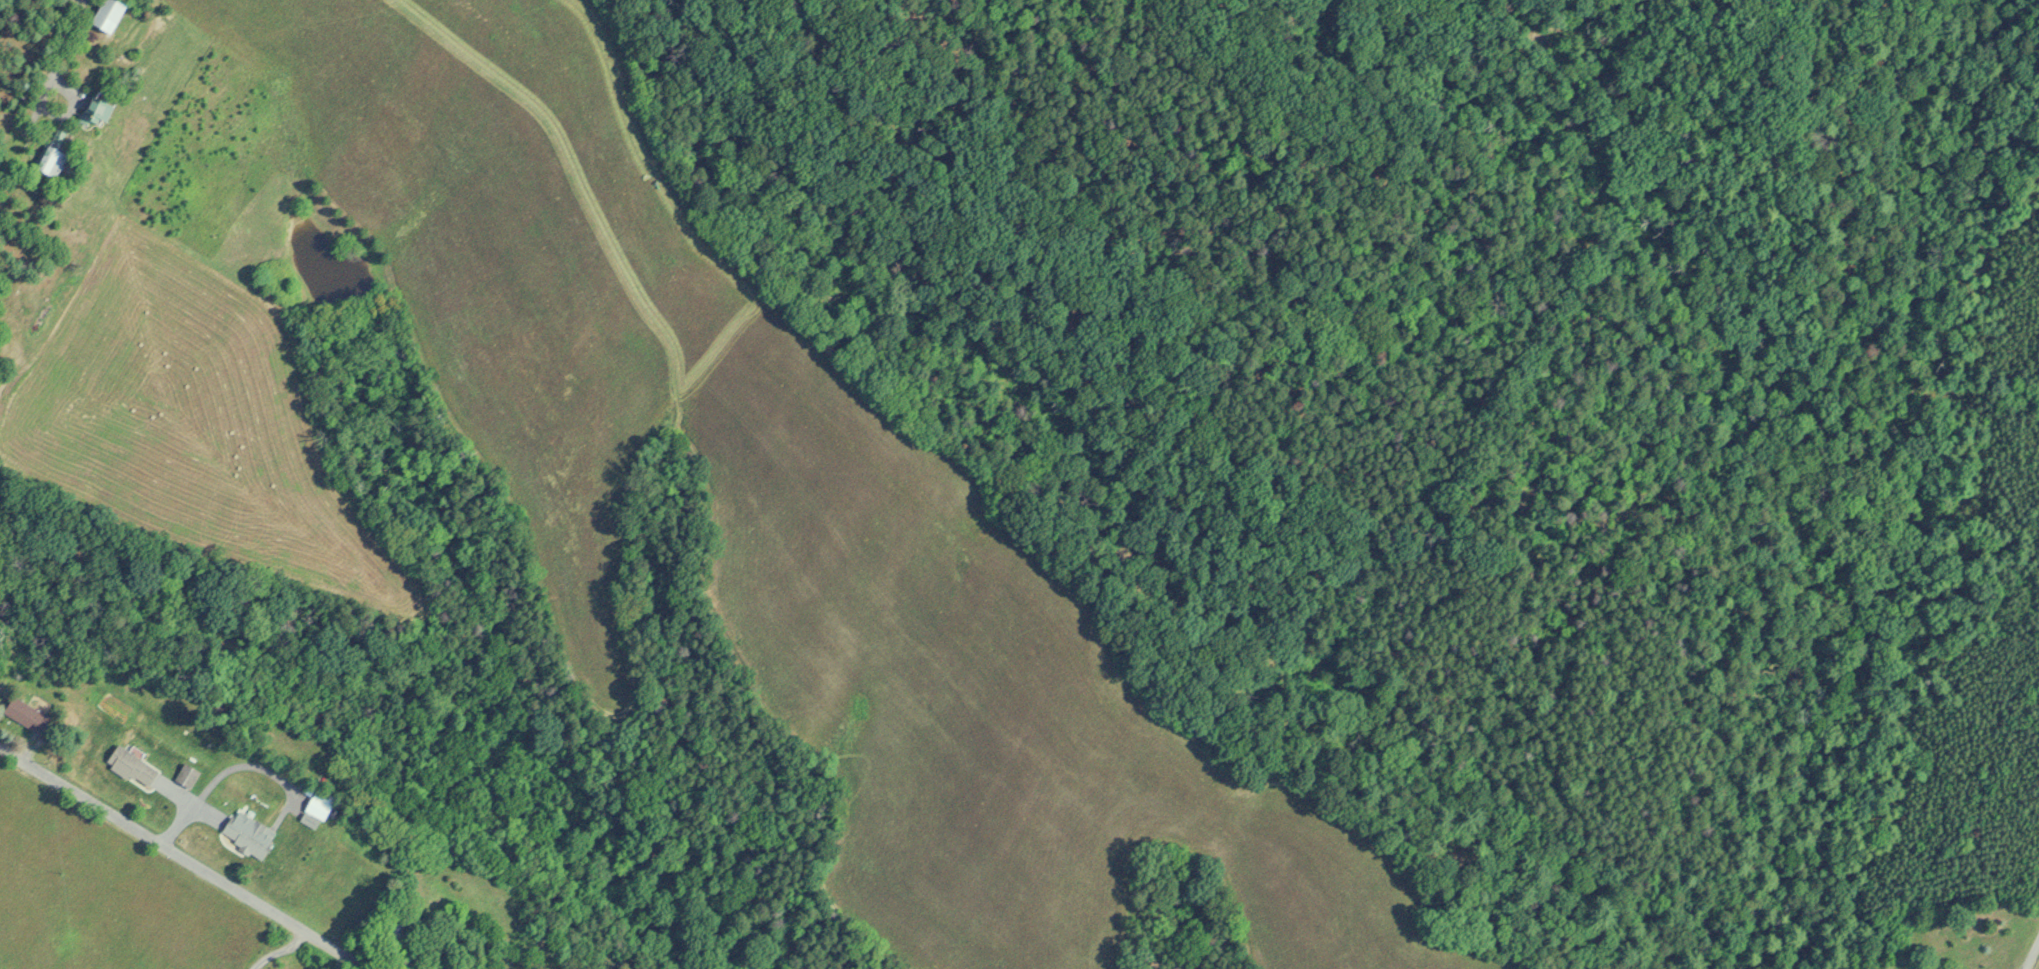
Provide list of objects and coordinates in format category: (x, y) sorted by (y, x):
building: (119, 13)
building: (106, 105)
building: (57, 158)
building: (30, 714)
building: (136, 765)
building: (192, 774)
building: (321, 806)
building: (252, 835)
road: (182, 858)
crop: (105, 897)
road: (279, 951)
road: (2032, 955)

